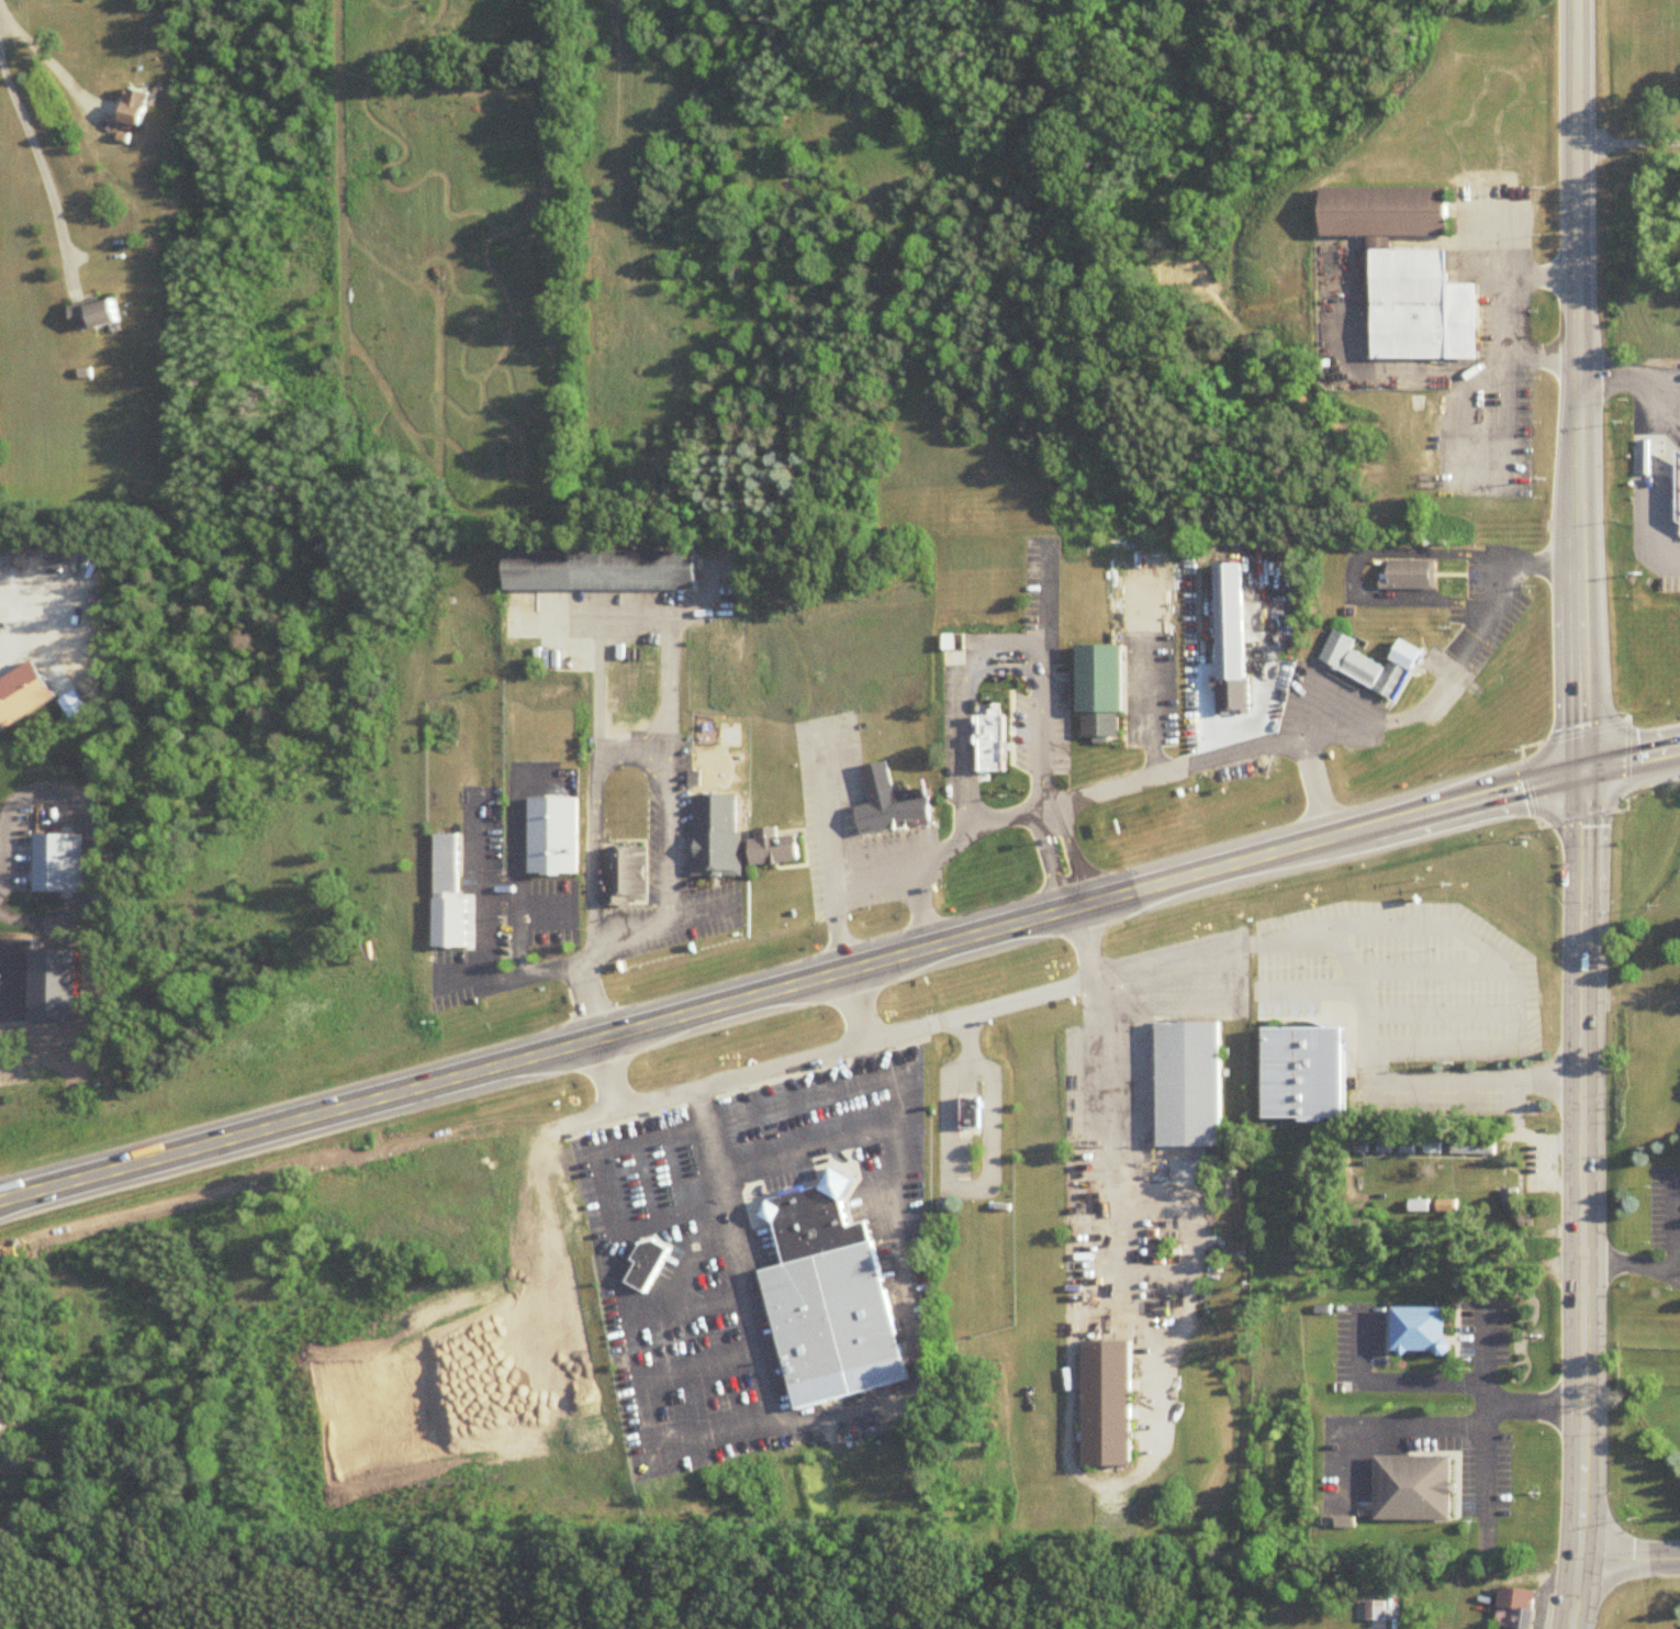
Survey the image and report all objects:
road: (49, 57)
building: (134, 108)
road: (1629, 143)
road: (42, 165)
building: (1388, 208)
road: (1499, 219)
building: (1421, 303)
road: (1500, 306)
building: (92, 315)
road: (1617, 381)
road: (1581, 384)
road: (1654, 473)
road: (1472, 475)
building: (1679, 490)
road: (1498, 556)
building: (595, 562)
road: (1459, 567)
building: (1409, 570)
road: (1349, 573)
road: (1483, 578)
road: (1037, 596)
road: (630, 616)
building: (1229, 618)
road: (34, 622)
road: (556, 624)
building: (1368, 659)
building: (1097, 685)
building: (22, 687)
road: (1323, 687)
road: (1401, 687)
road: (1362, 688)
road: (1144, 698)
road: (960, 703)
road: (1005, 705)
road: (1034, 726)
building: (988, 735)
road: (606, 741)
road: (808, 743)
road: (1185, 756)
road: (1310, 785)
building: (884, 797)
road: (41, 799)
road: (891, 827)
building: (551, 829)
building: (710, 829)
road: (807, 836)
road: (797, 837)
road: (33, 839)
building: (771, 841)
road: (904, 843)
road: (508, 848)
road: (1064, 851)
building: (443, 855)
building: (63, 857)
road: (1041, 858)
road: (555, 870)
building: (618, 870)
road: (707, 885)
road: (467, 894)
road: (627, 902)
road: (920, 903)
road: (685, 904)
building: (446, 910)
road: (38, 911)
road: (1414, 919)
road: (614, 930)
road: (1343, 958)
road: (1228, 961)
road: (579, 962)
road: (1426, 964)
road: (515, 968)
road: (839, 973)
road: (852, 1003)
road: (1345, 1004)
parking lot: (1407, 1004)
road: (1360, 1005)
road: (1435, 1007)
road: (583, 1008)
road: (1308, 1013)
road: (849, 1038)
building: (1304, 1070)
building: (1185, 1080)
road: (835, 1091)
road: (1147, 1092)
road: (786, 1103)
road: (953, 1104)
building: (967, 1109)
road: (743, 1115)
road: (849, 1136)
road: (1106, 1136)
road: (852, 1138)
road: (828, 1148)
building: (1474, 1149)
road: (836, 1157)
road: (942, 1175)
road: (596, 1179)
building: (1510, 1197)
road: (740, 1198)
road: (1583, 1198)
building: (1419, 1206)
building: (1447, 1206)
road: (887, 1209)
road: (1670, 1218)
road: (730, 1252)
building: (645, 1258)
road: (1633, 1258)
building: (830, 1294)
road: (684, 1303)
road: (1384, 1323)
building: (1419, 1325)
road: (1449, 1329)
road: (1452, 1335)
road: (1378, 1337)
building: (4, 1357)
road: (1385, 1372)
building: (1107, 1398)
road: (1532, 1401)
road: (1482, 1402)
road: (845, 1405)
road: (651, 1407)
road: (1386, 1419)
building: (0, 1437)
road: (1452, 1463)
road: (1368, 1472)
building: (1410, 1483)
road: (1453, 1509)
road: (1626, 1561)
building: (1515, 1609)
building: (1376, 1610)
building: (763, 1626)

